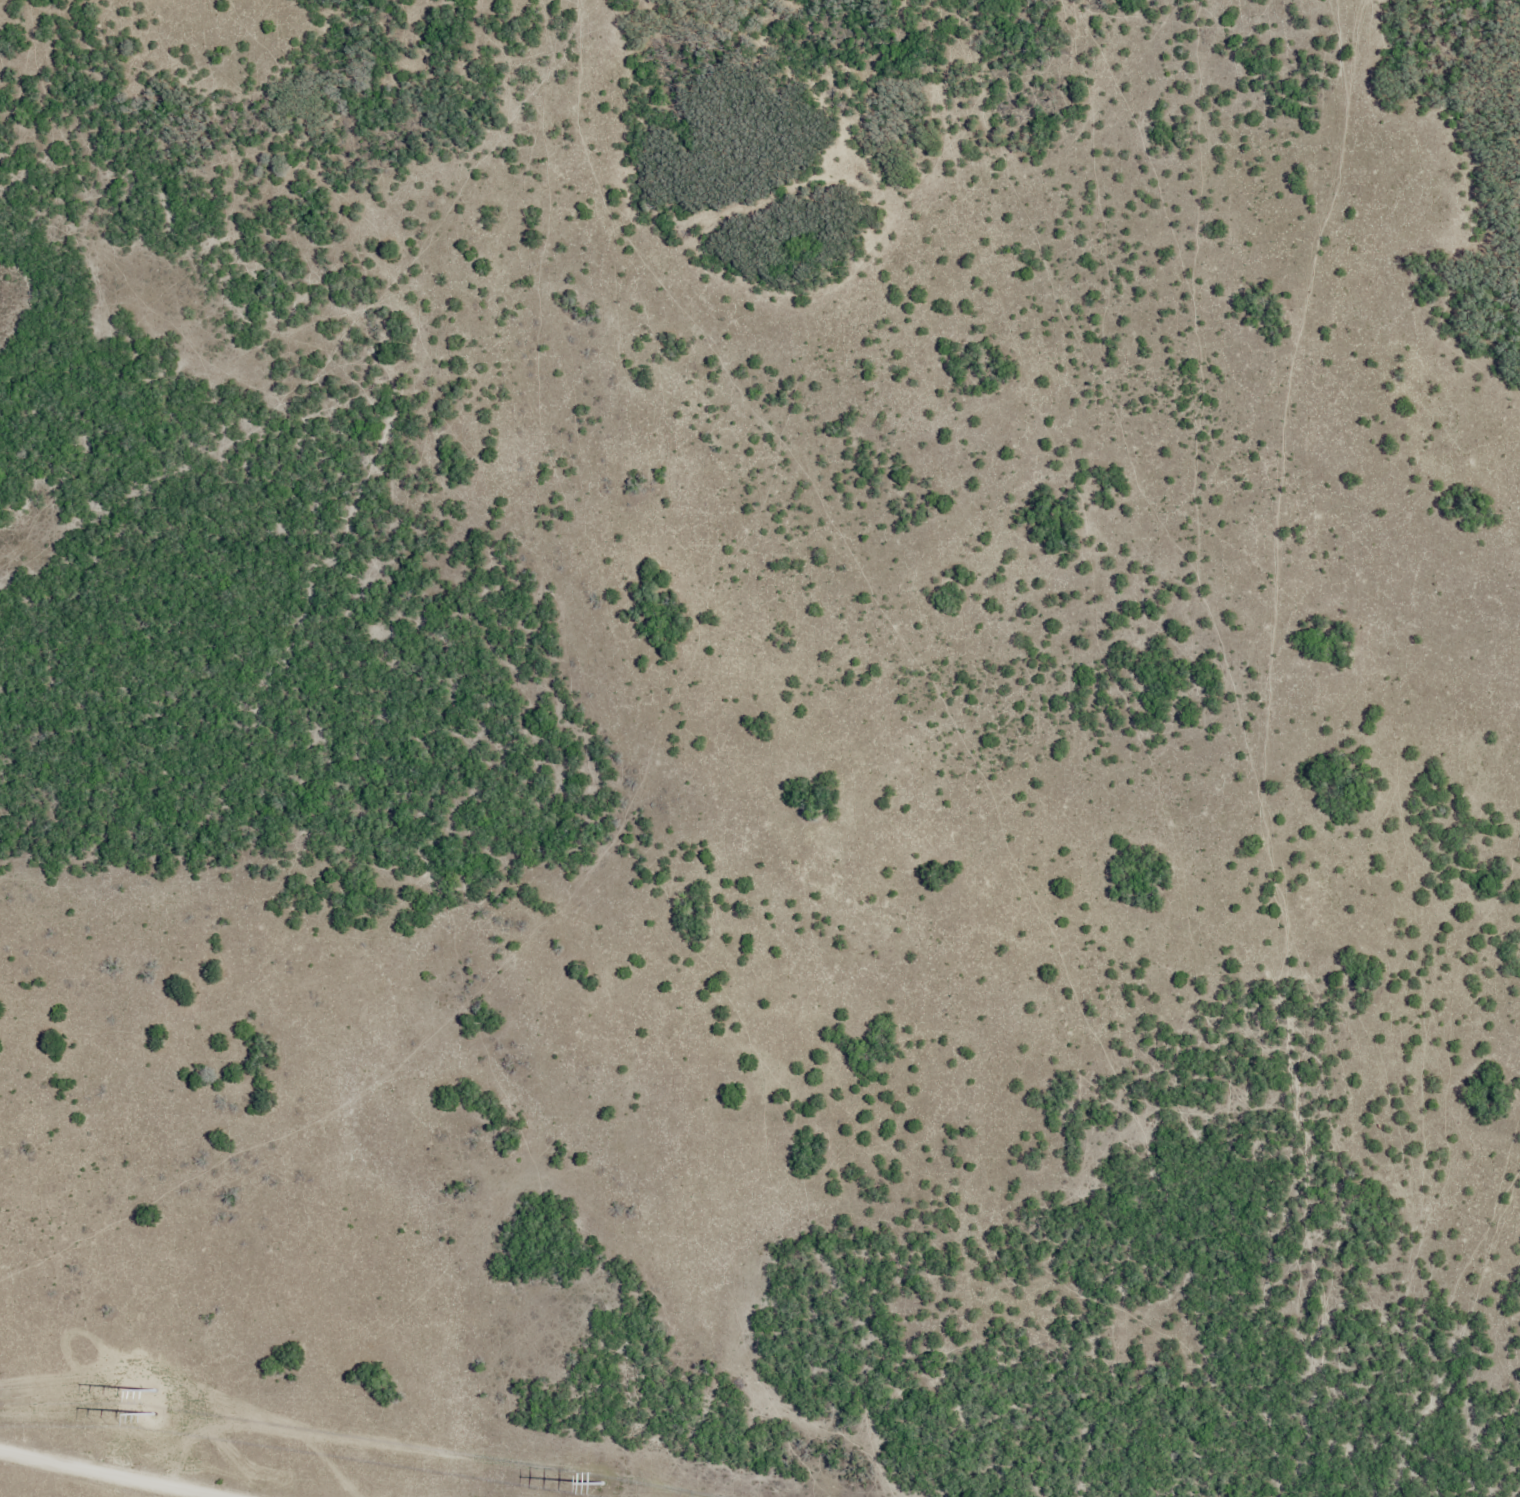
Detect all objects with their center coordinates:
power tower: (162, 1419)
road: (145, 1470)
power tower: (606, 1487)

